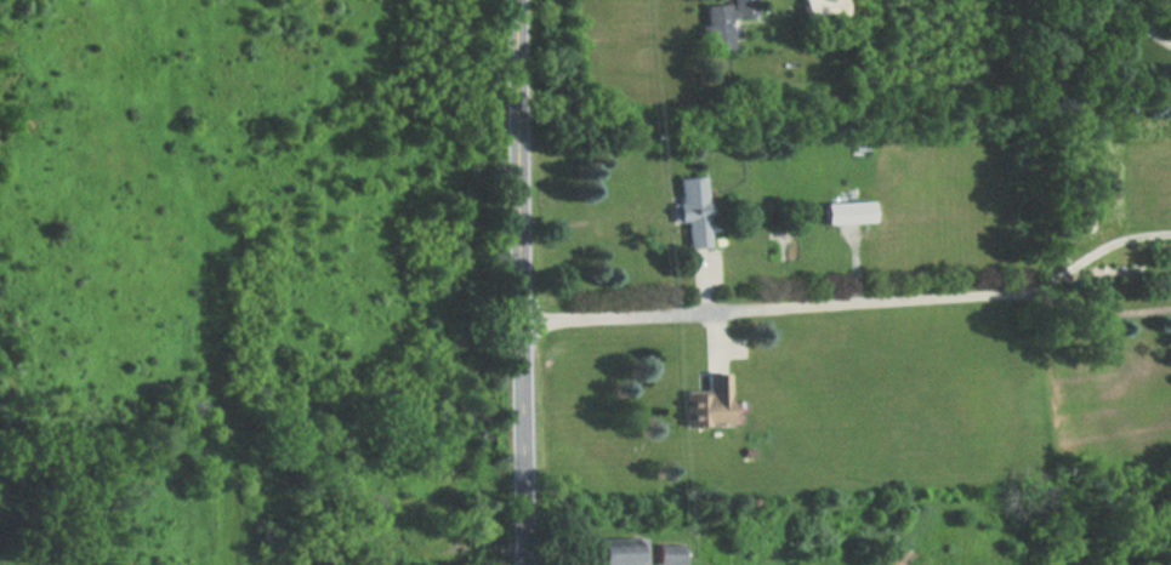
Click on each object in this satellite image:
building: (828, 8)
building: (726, 21)
building: (692, 210)
road: (1093, 251)
road: (521, 282)
road: (773, 306)
road: (1096, 313)
building: (707, 401)
building: (409, 530)
building: (621, 550)
building: (670, 554)

